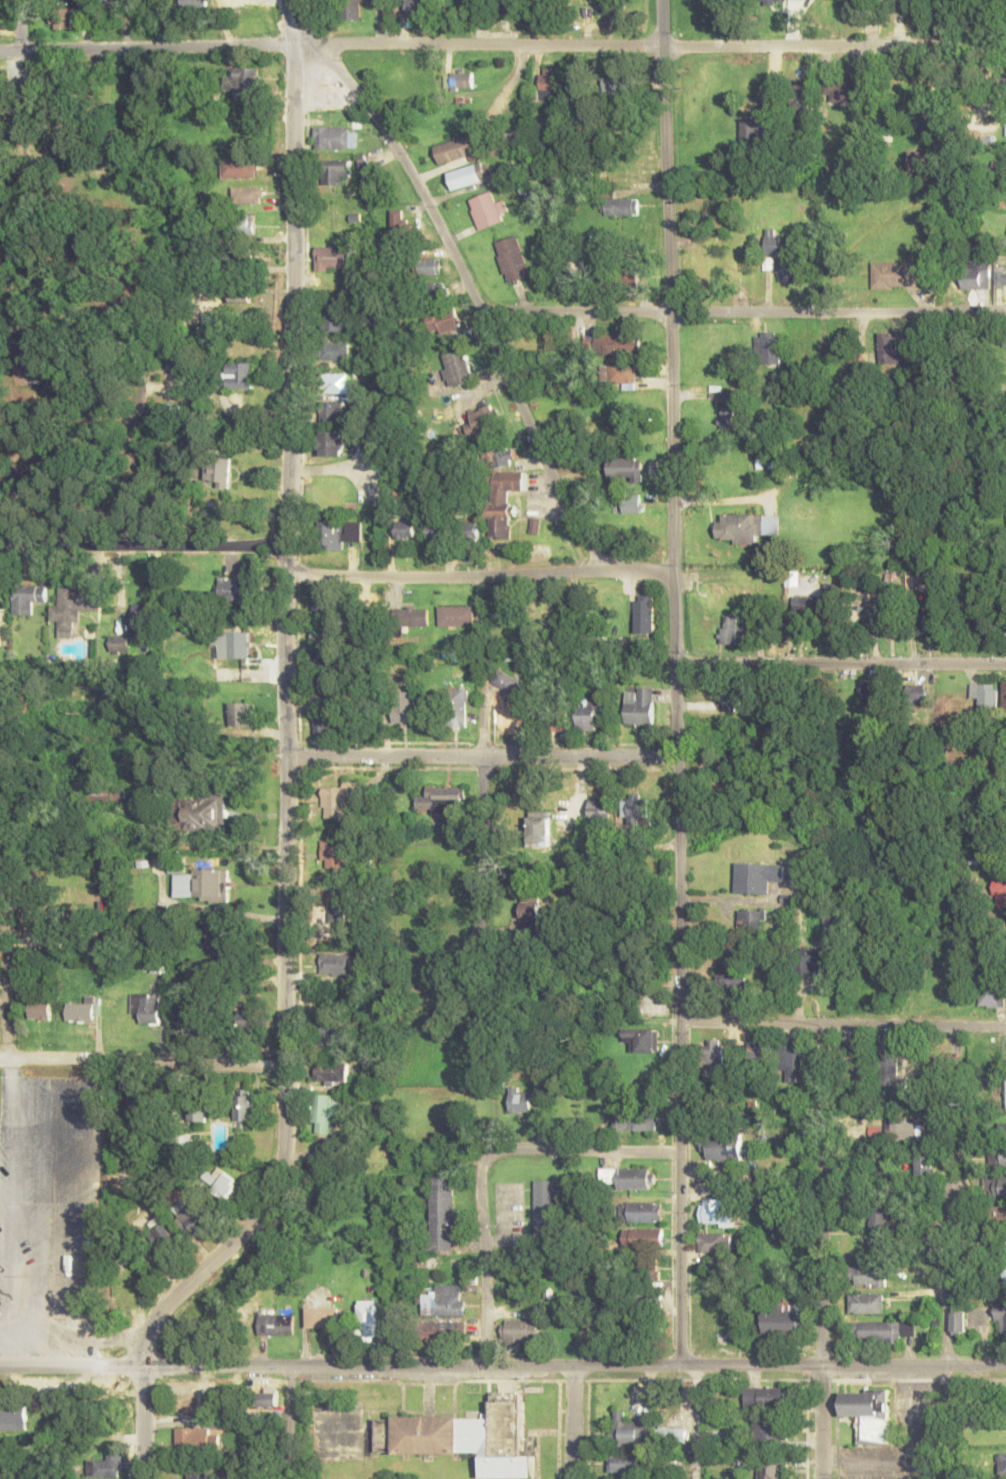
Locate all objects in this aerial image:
building: (768, 1)
building: (195, 3)
building: (857, 3)
building: (903, 3)
building: (952, 3)
building: (506, 5)
building: (610, 6)
building: (417, 8)
building: (352, 9)
building: (63, 18)
road: (21, 26)
road: (502, 47)
building: (459, 80)
building: (247, 82)
building: (549, 85)
building: (617, 85)
building: (842, 92)
building: (800, 95)
building: (756, 132)
building: (337, 136)
building: (454, 149)
building: (919, 161)
building: (239, 167)
building: (337, 171)
building: (468, 175)
building: (370, 181)
building: (248, 195)
building: (622, 206)
building: (485, 209)
building: (241, 223)
building: (398, 224)
building: (87, 253)
building: (784, 254)
building: (332, 258)
building: (512, 259)
building: (427, 266)
building: (892, 275)
building: (975, 275)
building: (634, 276)
building: (1000, 277)
building: (240, 292)
building: (432, 293)
road: (472, 297)
road: (742, 313)
building: (338, 321)
building: (441, 321)
building: (209, 323)
building: (1004, 340)
building: (613, 345)
building: (767, 347)
building: (891, 347)
building: (334, 351)
building: (455, 368)
building: (623, 374)
building: (240, 375)
building: (336, 383)
building: (733, 410)
building: (332, 412)
building: (483, 421)
building: (331, 443)
building: (501, 457)
building: (625, 468)
building: (217, 471)
building: (502, 501)
building: (745, 527)
building: (404, 529)
road: (285, 530)
building: (469, 530)
building: (435, 532)
building: (339, 533)
road: (142, 547)
road: (478, 577)
building: (234, 589)
building: (27, 598)
building: (324, 601)
building: (74, 605)
building: (806, 605)
building: (645, 613)
building: (931, 613)
building: (456, 615)
building: (411, 616)
building: (892, 618)
building: (142, 620)
building: (1, 627)
building: (730, 629)
building: (321, 633)
building: (119, 643)
building: (232, 644)
building: (318, 662)
road: (839, 664)
building: (503, 679)
road: (674, 682)
building: (868, 690)
building: (325, 695)
building: (913, 695)
building: (735, 696)
building: (985, 696)
building: (1004, 696)
building: (639, 705)
building: (455, 707)
building: (403, 711)
building: (590, 713)
building: (238, 714)
building: (514, 717)
building: (555, 720)
building: (321, 725)
road: (480, 757)
building: (97, 792)
building: (441, 798)
building: (338, 799)
building: (198, 812)
building: (600, 812)
building: (637, 812)
building: (539, 829)
road: (482, 849)
building: (337, 855)
building: (758, 877)
building: (201, 883)
building: (1003, 883)
building: (529, 905)
building: (632, 910)
building: (340, 912)
building: (751, 918)
building: (1001, 925)
building: (57, 936)
building: (220, 943)
building: (811, 960)
building: (881, 961)
building: (334, 963)
building: (735, 980)
road: (6, 992)
building: (991, 997)
building: (40, 1009)
building: (146, 1009)
building: (81, 1011)
building: (248, 1020)
road: (751, 1024)
building: (197, 1026)
road: (913, 1026)
building: (334, 1034)
building: (642, 1038)
building: (756, 1052)
building: (714, 1053)
road: (142, 1060)
building: (794, 1062)
building: (855, 1066)
building: (945, 1068)
building: (894, 1069)
building: (332, 1073)
building: (521, 1101)
building: (244, 1104)
building: (198, 1111)
building: (324, 1112)
building: (635, 1121)
building: (899, 1130)
building: (1002, 1130)
building: (723, 1147)
road: (581, 1150)
building: (998, 1156)
building: (926, 1167)
building: (608, 1173)
building: (637, 1178)
building: (221, 1181)
building: (995, 1187)
building: (545, 1205)
building: (642, 1211)
building: (716, 1211)
building: (442, 1212)
building: (191, 1216)
building: (881, 1216)
building: (163, 1234)
building: (643, 1237)
building: (714, 1242)
building: (880, 1248)
road: (821, 1252)
road: (946, 1252)
road: (484, 1263)
road: (204, 1268)
building: (646, 1270)
building: (870, 1275)
building: (653, 1298)
building: (445, 1300)
building: (867, 1303)
building: (321, 1318)
building: (367, 1318)
building: (1002, 1319)
building: (274, 1323)
building: (783, 1323)
building: (958, 1323)
building: (706, 1325)
building: (633, 1327)
building: (519, 1331)
building: (884, 1331)
building: (443, 1332)
traffic signals: (144, 1367)
road: (411, 1367)
road: (914, 1368)
building: (766, 1396)
building: (267, 1398)
building: (191, 1400)
building: (868, 1413)
building: (13, 1415)
road: (288, 1422)
road: (695, 1422)
road: (571, 1423)
building: (628, 1429)
building: (770, 1432)
building: (674, 1433)
building: (465, 1436)
building: (196, 1438)
building: (626, 1463)
building: (1002, 1464)
building: (101, 1467)
building: (774, 1467)
building: (204, 1475)

